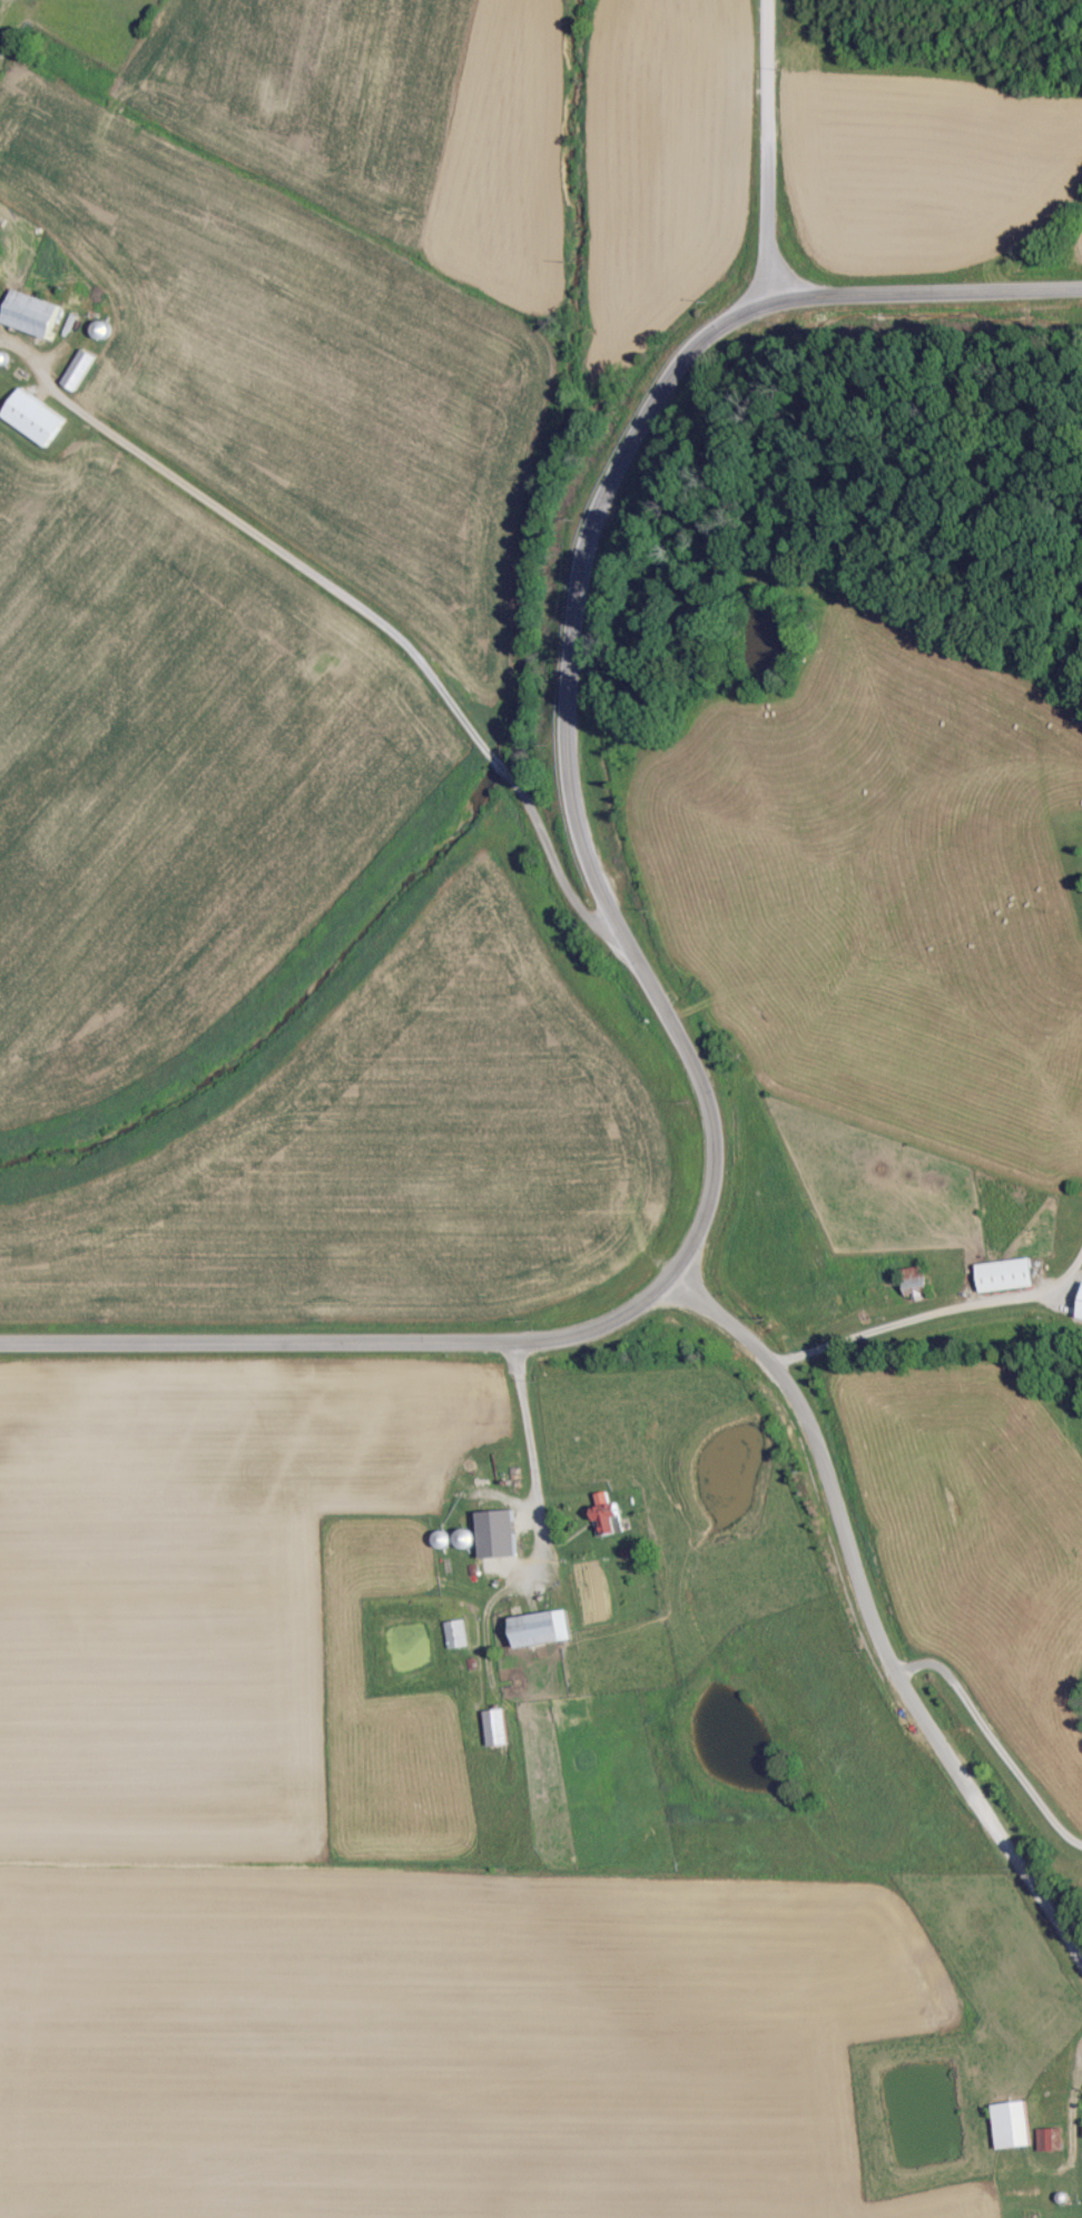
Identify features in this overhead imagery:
road: (761, 148)
building: (28, 313)
road: (30, 364)
building: (76, 369)
building: (30, 418)
road: (573, 616)
road: (390, 629)
building: (1002, 1274)
building: (913, 1282)
road: (934, 1313)
road: (343, 1341)
road: (531, 1453)
building: (603, 1512)
building: (490, 1524)
building: (462, 1537)
building: (440, 1538)
road: (870, 1620)
building: (532, 1627)
building: (454, 1632)
building: (493, 1726)
road: (993, 1743)
building: (1007, 2123)
building: (1046, 2138)

